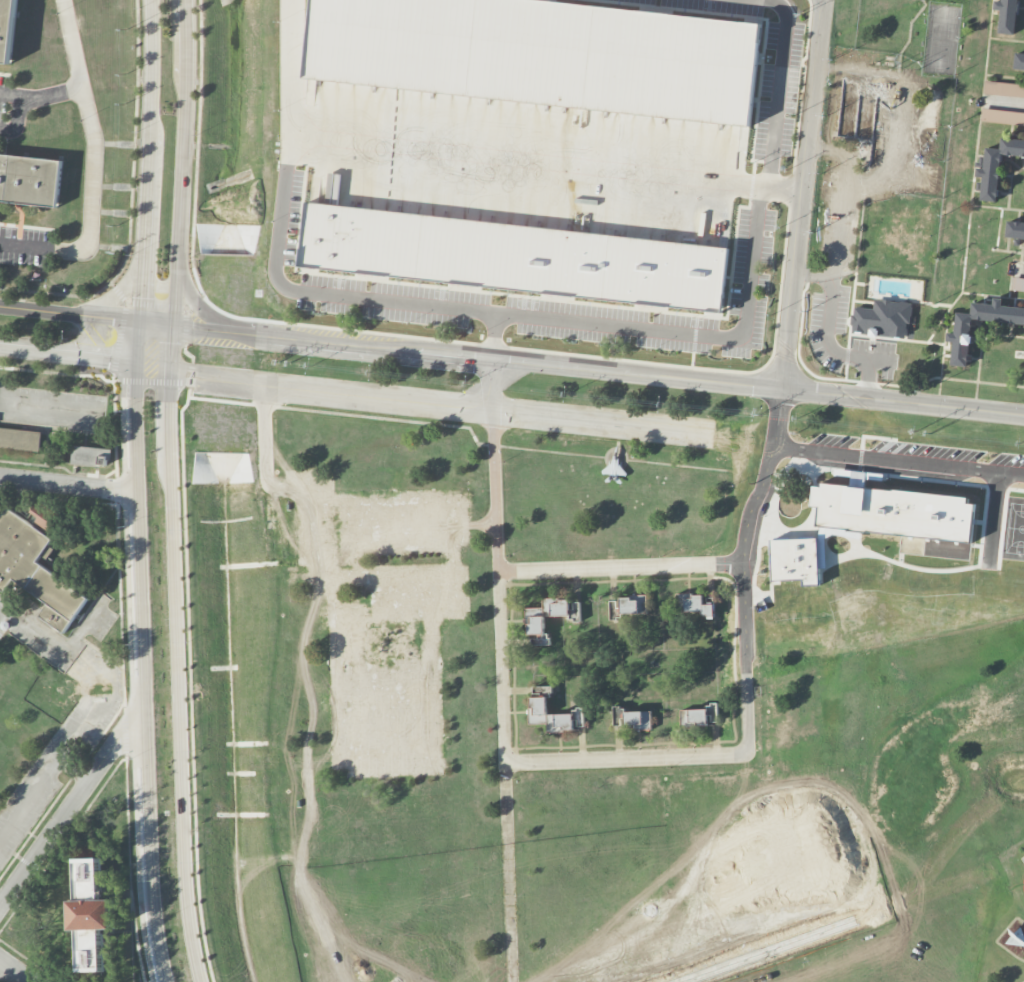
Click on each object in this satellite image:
building: (1007, 15)
road: (800, 26)
building: (8, 29)
building: (542, 53)
building: (1019, 62)
building: (1003, 89)
road: (42, 98)
road: (1005, 103)
building: (932, 109)
building: (1002, 117)
building: (877, 120)
road: (18, 123)
road: (93, 126)
road: (833, 147)
road: (149, 160)
road: (528, 160)
road: (183, 162)
building: (996, 166)
building: (30, 180)
road: (784, 187)
road: (846, 219)
road: (800, 224)
building: (1015, 230)
road: (44, 249)
building: (514, 257)
road: (1020, 270)
road: (815, 272)
building: (1018, 285)
road: (119, 293)
road: (200, 308)
road: (503, 310)
road: (69, 314)
building: (881, 319)
building: (962, 328)
road: (495, 335)
road: (137, 340)
railway: (785, 347)
road: (836, 348)
railway: (790, 359)
road: (581, 370)
road: (493, 381)
building: (20, 438)
building: (89, 456)
road: (898, 462)
road: (68, 483)
building: (894, 511)
building: (408, 527)
park: (1014, 529)
building: (796, 559)
road: (622, 569)
building: (35, 570)
building: (633, 604)
building: (695, 606)
building: (347, 617)
building: (536, 630)
road: (178, 654)
road: (143, 670)
road: (503, 691)
building: (552, 712)
building: (699, 716)
building: (637, 720)
road: (749, 721)
road: (66, 751)
road: (67, 809)
building: (90, 915)
road: (16, 970)

